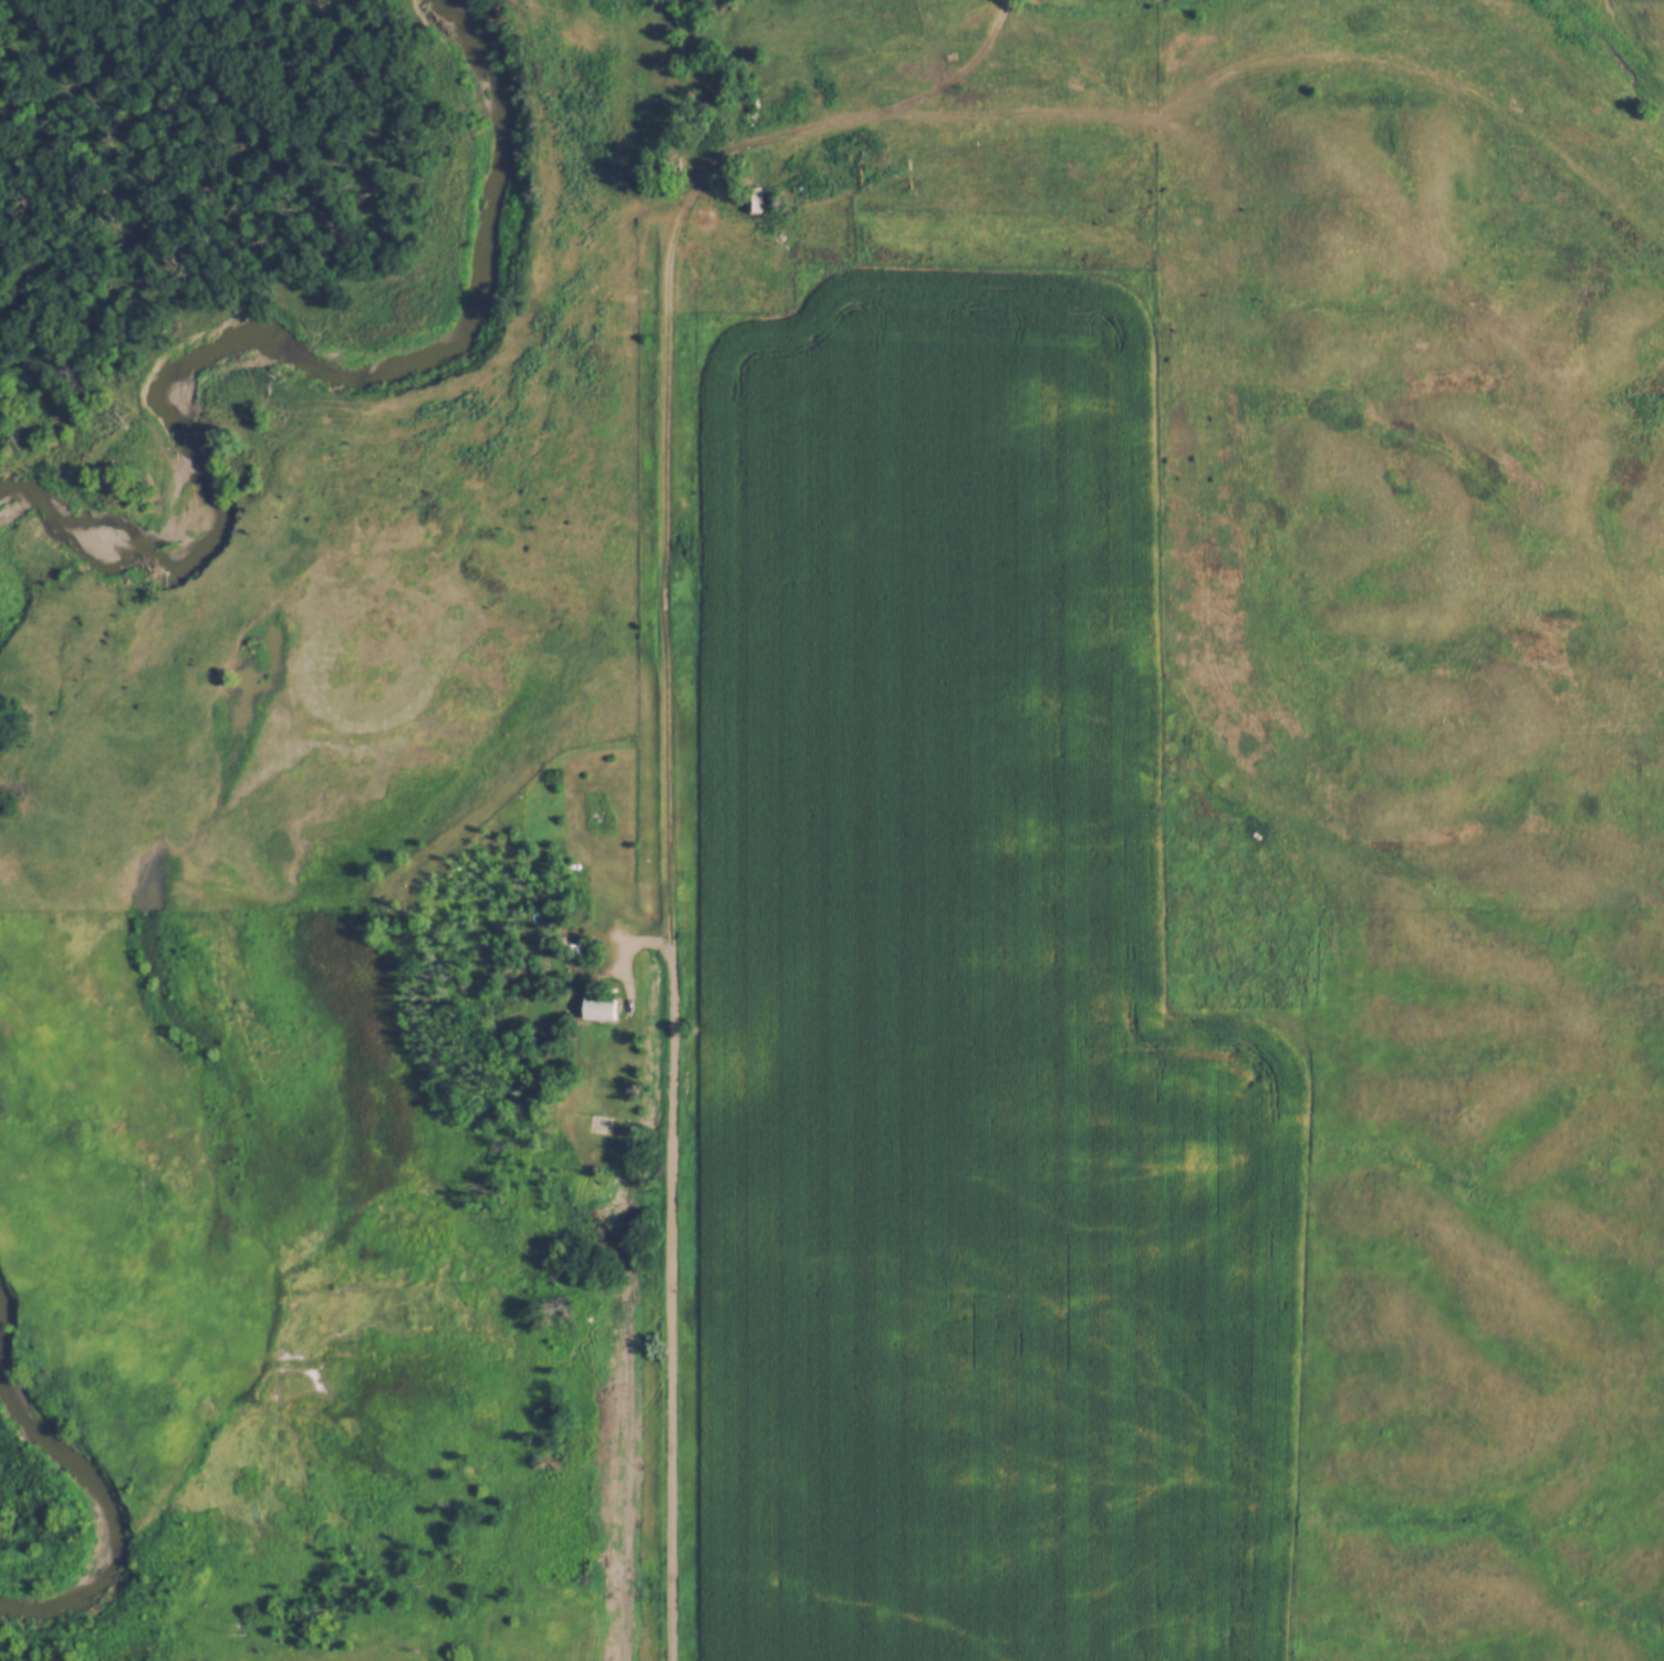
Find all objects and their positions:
building: (751, 200)
river: (322, 355)
river: (10, 653)
road: (674, 990)
building: (593, 1009)
building: (601, 1127)
river: (7, 1326)
river: (110, 1515)

